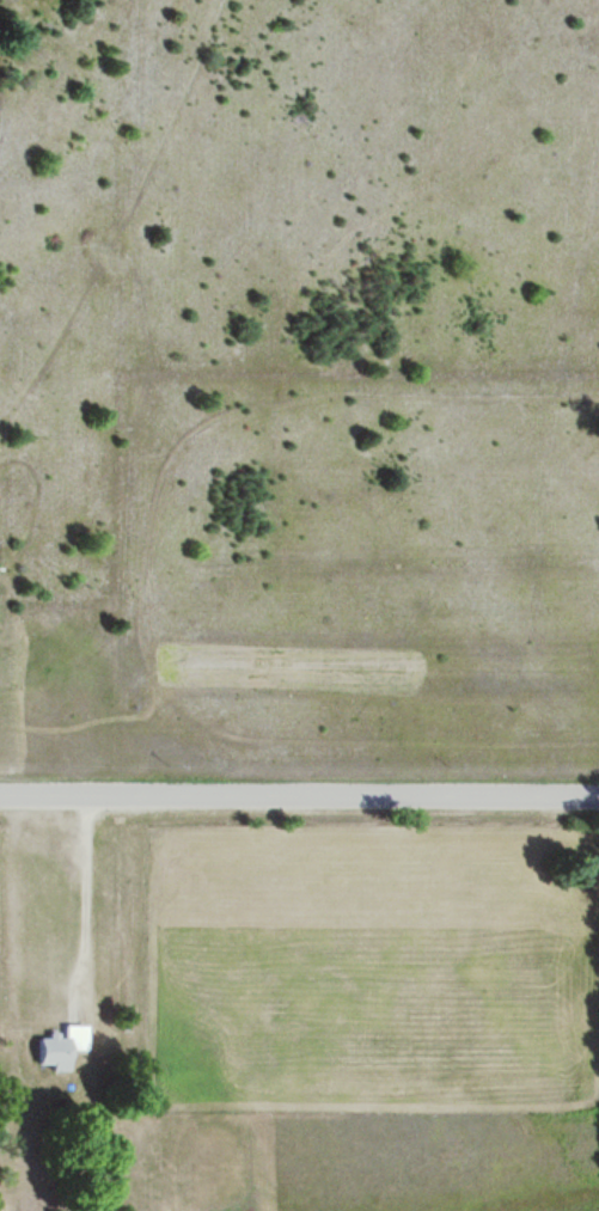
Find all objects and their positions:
road: (299, 799)
building: (61, 1047)

